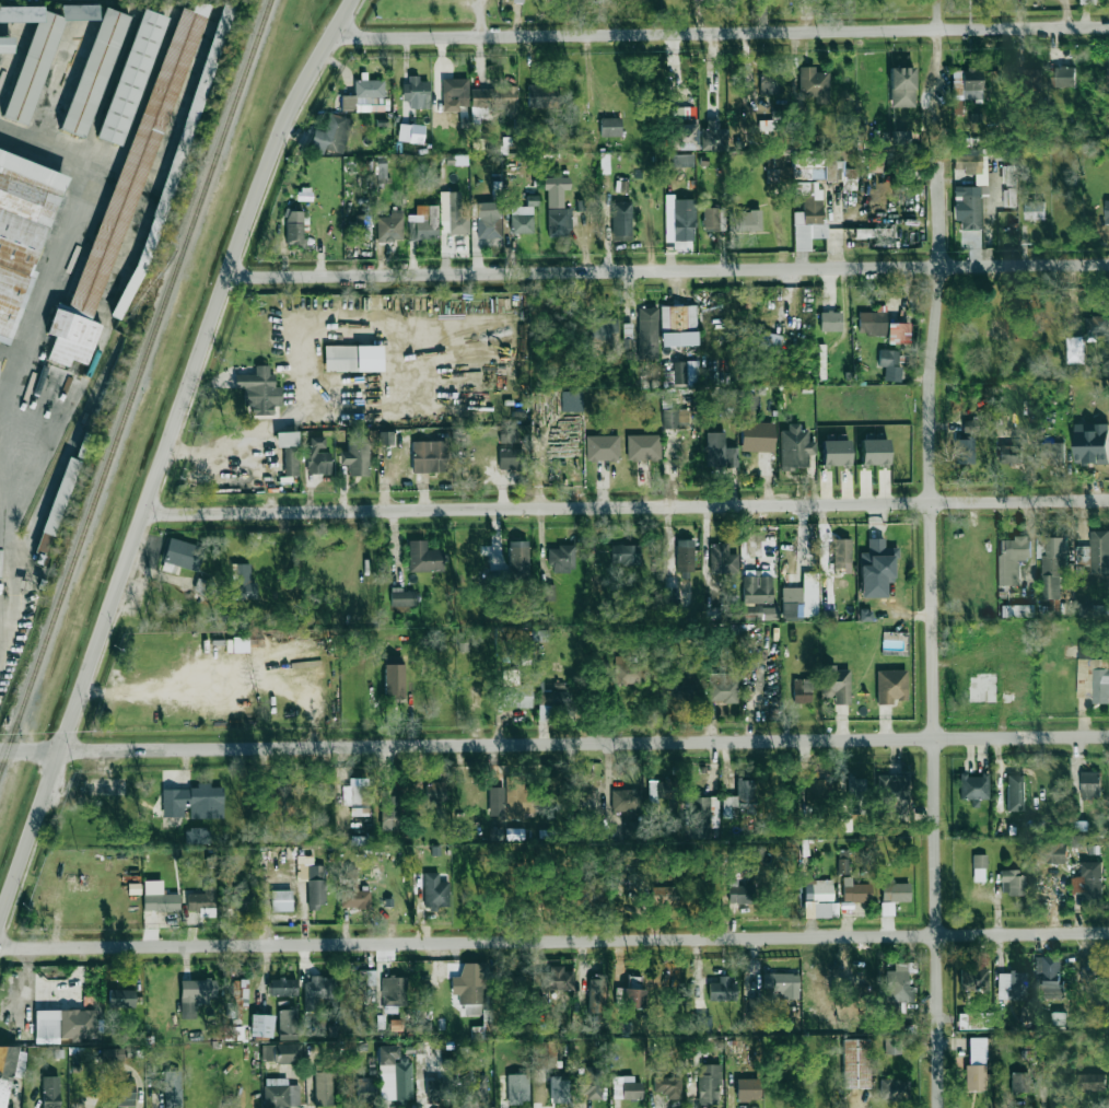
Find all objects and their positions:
building: (1088, 1)
road: (481, 19)
road: (719, 32)
building: (5, 44)
building: (35, 57)
building: (93, 72)
building: (1107, 74)
building: (130, 77)
building: (1063, 77)
building: (814, 84)
building: (901, 86)
building: (965, 88)
building: (416, 93)
building: (455, 93)
building: (541, 96)
building: (491, 102)
building: (610, 127)
building: (330, 133)
building: (410, 133)
building: (713, 136)
building: (684, 137)
building: (899, 138)
building: (459, 160)
building: (682, 160)
building: (971, 163)
building: (381, 172)
building: (1008, 175)
building: (305, 194)
building: (122, 197)
building: (1011, 197)
building: (967, 207)
building: (557, 208)
building: (1035, 210)
building: (1107, 211)
building: (452, 213)
building: (808, 214)
building: (523, 217)
building: (713, 218)
building: (684, 220)
building: (750, 220)
building: (488, 221)
building: (621, 221)
building: (423, 223)
building: (366, 226)
building: (390, 226)
building: (293, 229)
building: (871, 232)
building: (22, 233)
road: (666, 269)
building: (678, 317)
building: (830, 320)
building: (872, 323)
building: (602, 329)
building: (647, 333)
building: (898, 333)
building: (1086, 338)
building: (679, 339)
building: (770, 342)
road: (27, 345)
railway: (112, 350)
building: (352, 358)
building: (889, 364)
building: (685, 372)
railway: (136, 388)
building: (259, 390)
road: (381, 390)
building: (572, 400)
building: (748, 406)
building: (676, 418)
building: (969, 428)
building: (386, 438)
building: (507, 438)
building: (758, 438)
building: (1092, 443)
building: (602, 447)
building: (643, 447)
building: (795, 447)
building: (289, 451)
building: (720, 451)
building: (964, 451)
building: (874, 452)
building: (1009, 452)
road: (160, 453)
building: (836, 453)
building: (1052, 453)
building: (317, 456)
building: (429, 456)
building: (355, 457)
building: (510, 459)
building: (57, 505)
road: (622, 508)
building: (1099, 552)
building: (841, 553)
building: (183, 555)
building: (624, 555)
building: (423, 557)
building: (685, 557)
building: (561, 558)
building: (518, 559)
building: (1012, 559)
building: (722, 561)
building: (1053, 567)
building: (876, 568)
building: (241, 582)
building: (757, 588)
building: (545, 592)
building: (401, 597)
building: (802, 597)
building: (672, 606)
building: (1083, 609)
building: (1017, 610)
building: (760, 613)
building: (829, 615)
road: (932, 633)
building: (540, 635)
building: (1085, 652)
building: (628, 672)
building: (394, 680)
building: (1100, 681)
building: (836, 684)
building: (891, 686)
building: (722, 687)
building: (802, 690)
building: (514, 691)
building: (679, 692)
road: (553, 744)
building: (1089, 784)
building: (973, 786)
building: (816, 789)
building: (659, 790)
building: (434, 792)
building: (1015, 793)
building: (352, 795)
building: (857, 795)
building: (894, 795)
building: (626, 800)
building: (739, 800)
building: (278, 801)
building: (495, 801)
building: (194, 802)
building: (390, 809)
building: (703, 812)
building: (197, 836)
building: (1051, 852)
building: (843, 862)
building: (979, 867)
building: (1088, 880)
building: (1012, 882)
building: (316, 887)
building: (818, 890)
building: (895, 890)
building: (435, 891)
building: (738, 893)
building: (859, 893)
building: (662, 896)
building: (159, 898)
building: (237, 899)
building: (281, 900)
building: (202, 901)
building: (826, 910)
road: (553, 942)
building: (673, 973)
building: (1049, 976)
building: (554, 979)
building: (973, 979)
building: (782, 983)
building: (898, 984)
building: (1012, 985)
building: (282, 987)
building: (471, 987)
building: (395, 990)
building: (722, 990)
building: (316, 991)
building: (596, 992)
building: (633, 992)
building: (196, 995)
building: (236, 996)
building: (121, 999)
building: (1058, 1018)
building: (702, 1023)
building: (287, 1024)
building: (65, 1025)
building: (261, 1025)
building: (396, 1025)
building: (233, 1029)
building: (334, 1030)
building: (892, 1045)
building: (282, 1053)
building: (112, 1054)
building: (855, 1063)
building: (976, 1064)
building: (10, 1069)
building: (394, 1074)
building: (1019, 1081)
building: (593, 1082)
building: (1090, 1082)
building: (709, 1084)
building: (668, 1085)
building: (365, 1087)
building: (517, 1087)
building: (892, 1087)
building: (172, 1088)
building: (323, 1088)
building: (475, 1088)
building: (558, 1088)
building: (629, 1088)
building: (748, 1089)
building: (437, 1090)
building: (50, 1092)
building: (280, 1094)
building: (125, 1096)

